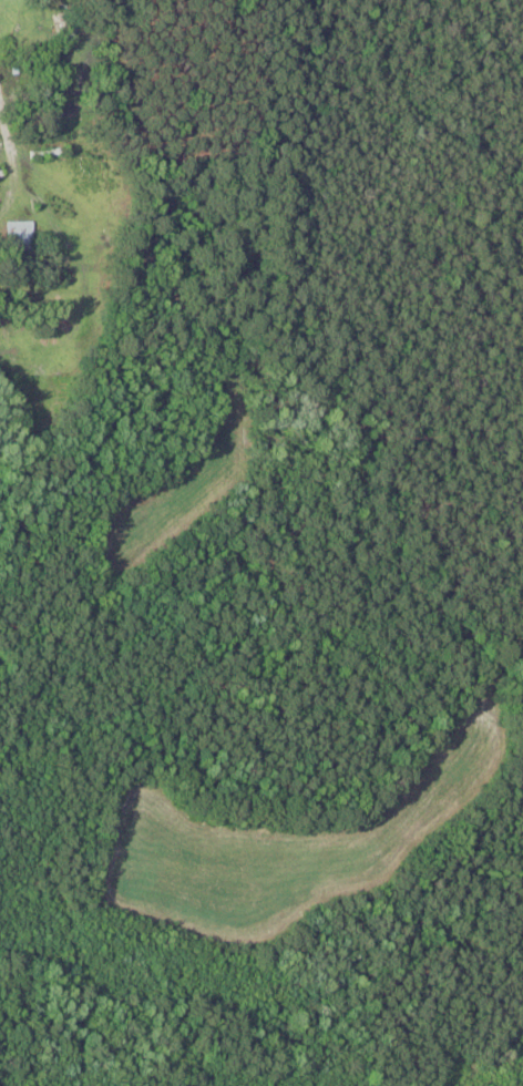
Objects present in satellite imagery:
building: (0, 175)
building: (18, 235)

